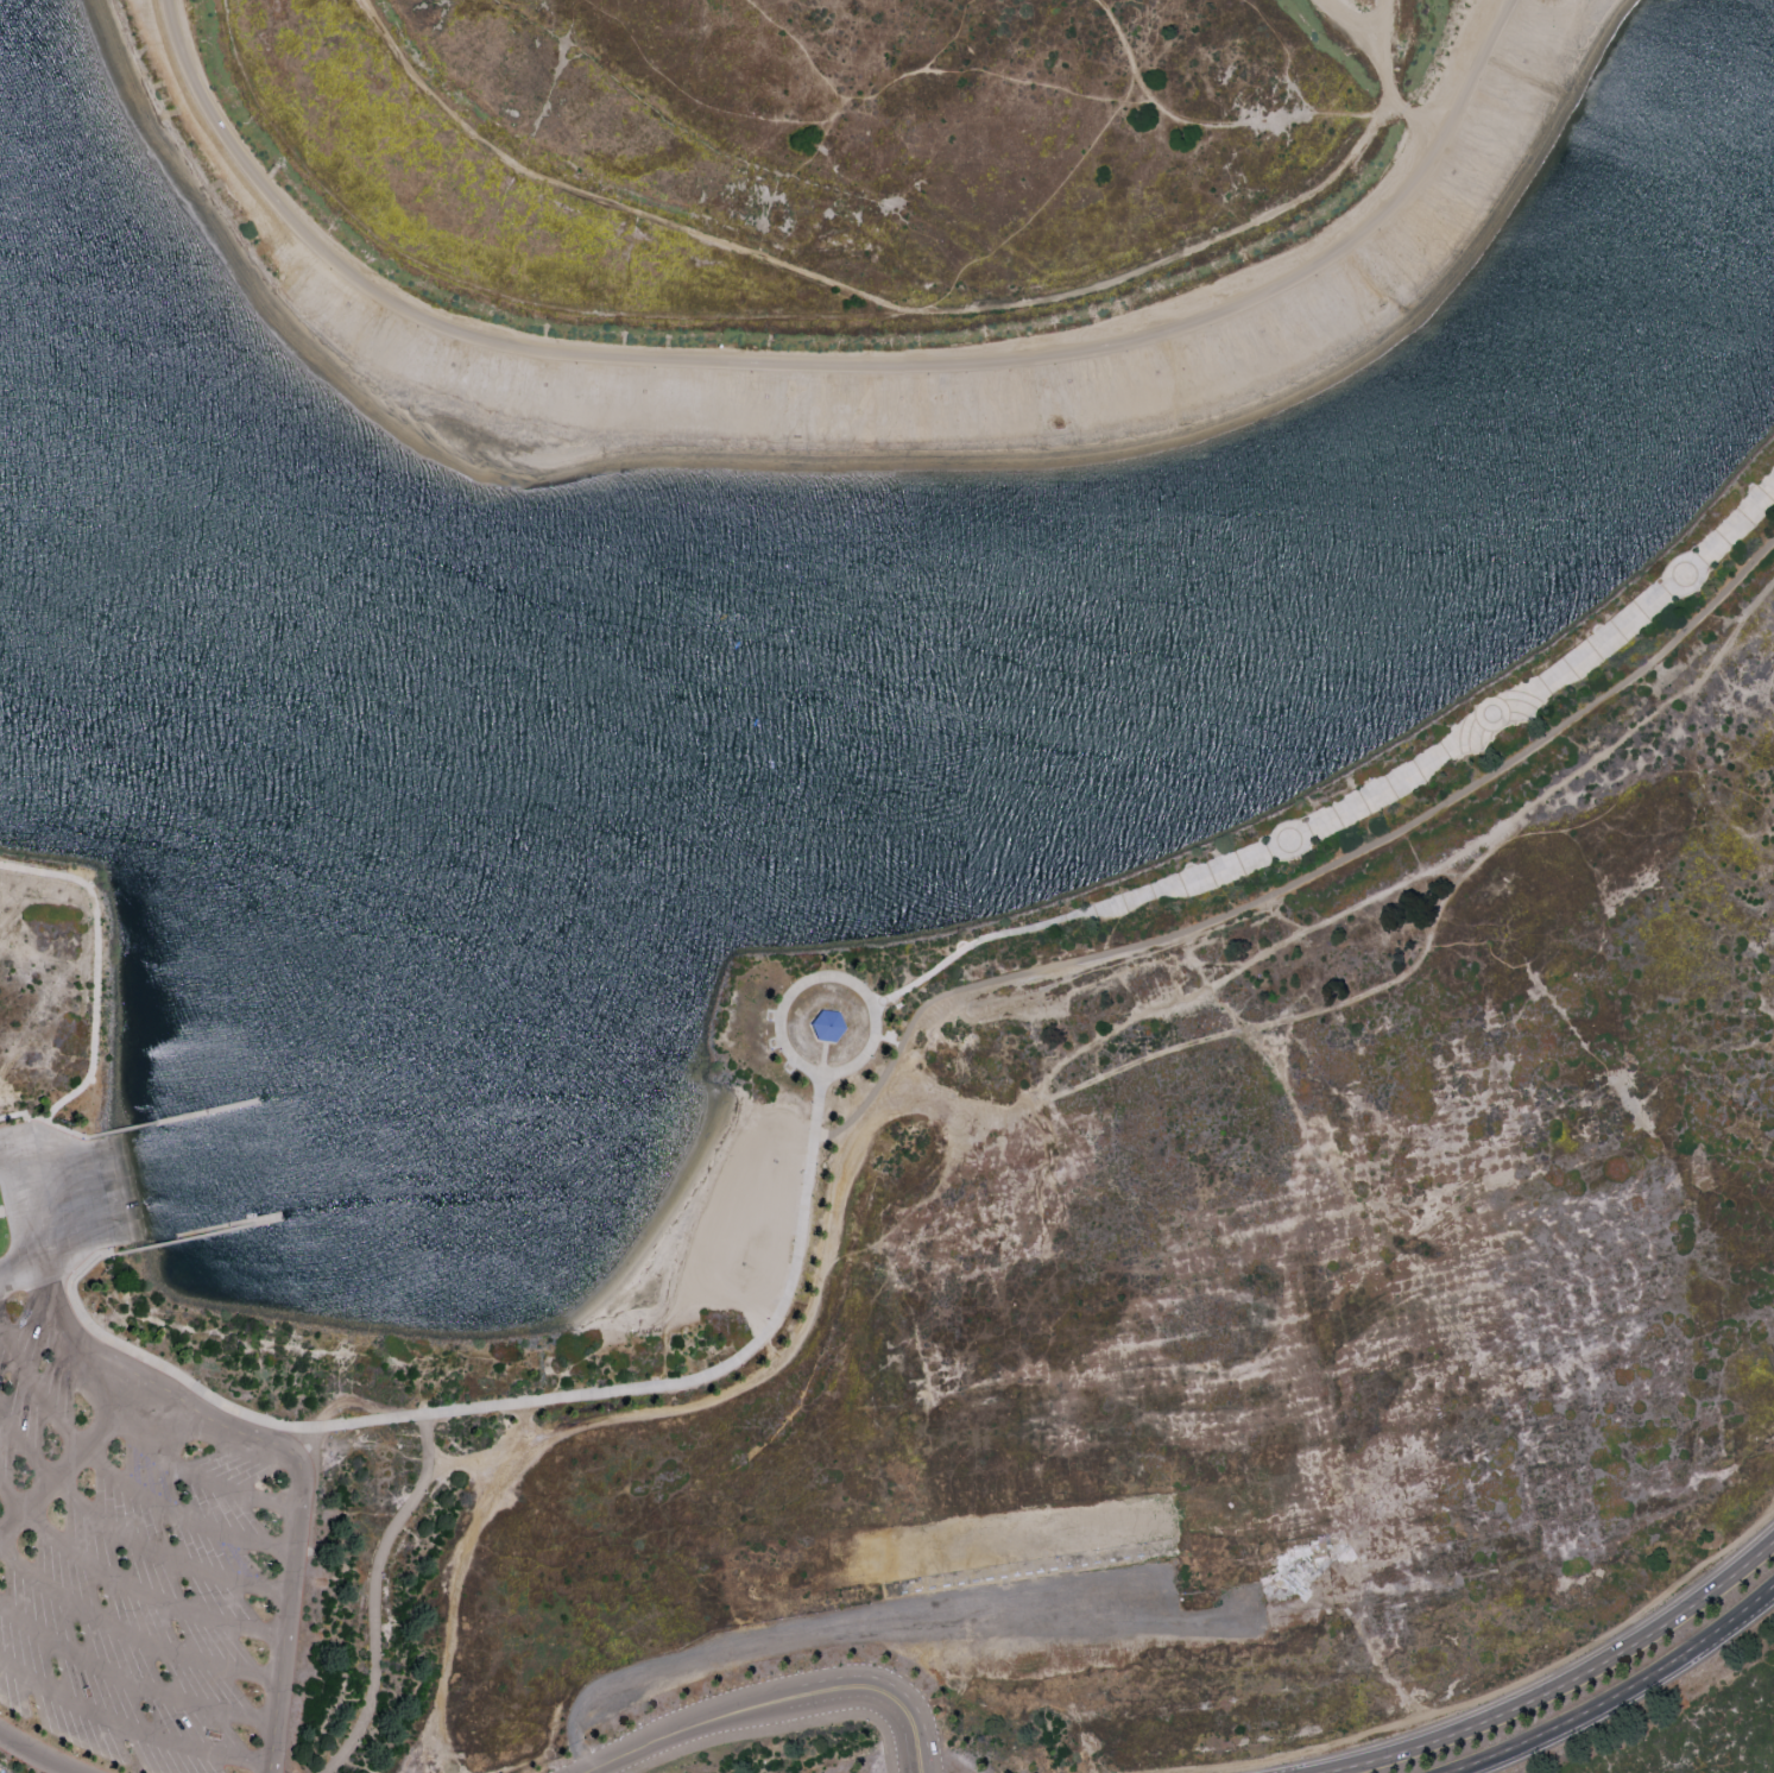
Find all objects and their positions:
road: (853, 102)
road: (1420, 119)
road: (736, 156)
road: (1066, 177)
park: (845, 193)
road: (1015, 307)
road: (833, 366)
road: (1358, 802)
road: (1302, 881)
road: (1282, 916)
road: (1195, 961)
road: (1257, 961)
road: (1395, 985)
road: (93, 995)
road: (1223, 1014)
building: (826, 1026)
road: (783, 1046)
road: (814, 1106)
pier: (209, 1112)
pier: (209, 1113)
road: (23, 1118)
pier: (125, 1131)
road: (69, 1211)
pier: (231, 1229)
pier: (189, 1239)
road: (87, 1273)
road: (21, 1274)
road: (105, 1363)
road: (696, 1374)
road: (732, 1392)
road: (227, 1405)
road: (524, 1425)
road: (116, 1478)
road: (197, 1479)
road: (298, 1528)
road: (127, 1540)
parking lot: (145, 1554)
airport runway: (837, 1579)
road: (128, 1590)
road: (367, 1591)
road: (449, 1616)
parking lot: (1028, 1620)
road: (1204, 1624)
road: (130, 1638)
road: (790, 1642)
road: (1549, 1684)
road: (128, 1686)
road: (1623, 1693)
road: (1486, 1695)
road: (777, 1703)
road: (777, 1728)
road: (128, 1730)
road: (37, 1754)
parking lot: (5, 1769)
road: (270, 1769)

